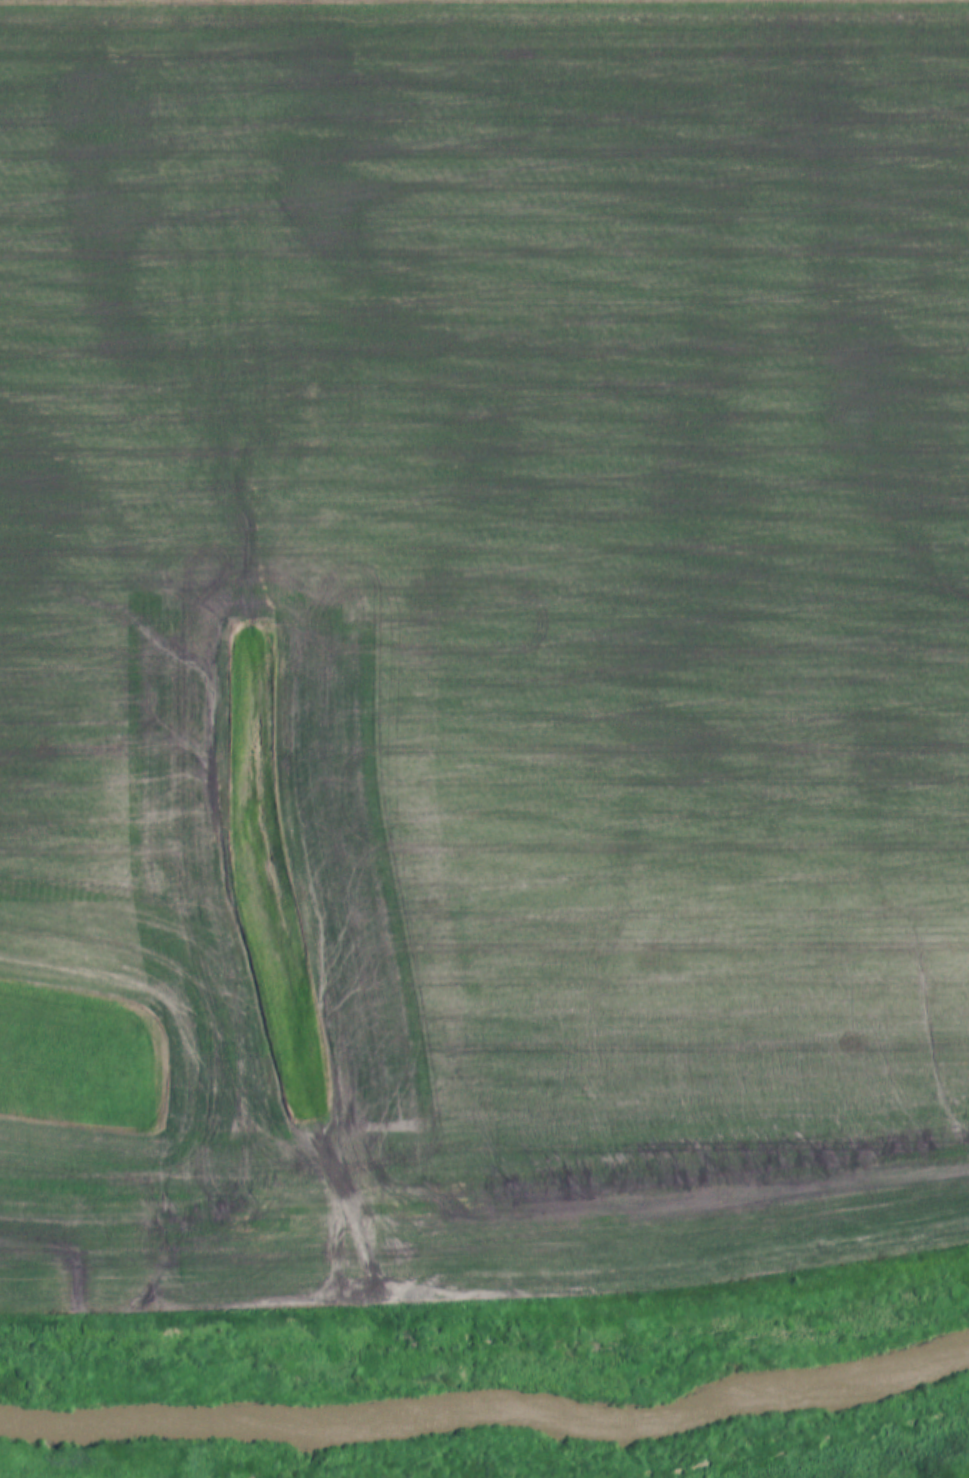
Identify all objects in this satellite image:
river: (901, 1362)
river: (582, 1414)
river: (163, 1424)

